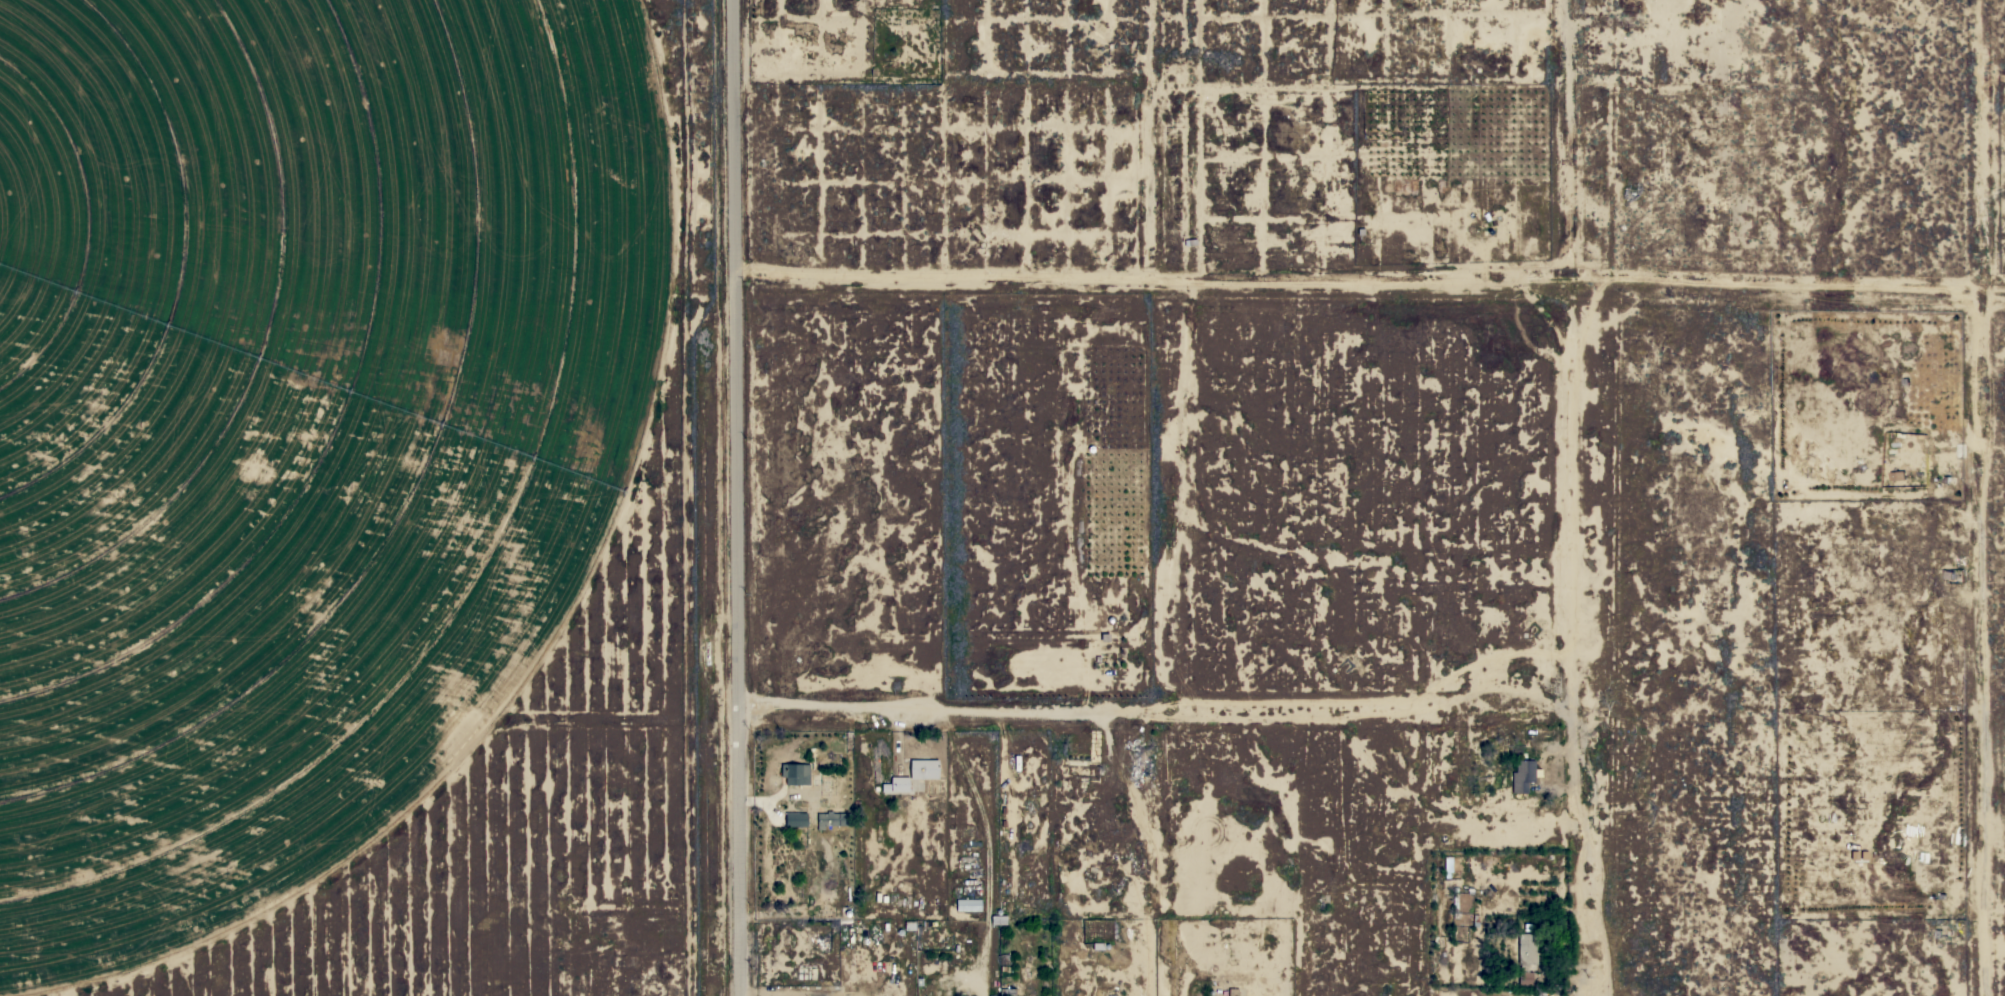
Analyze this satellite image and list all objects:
building: (926, 4)
building: (874, 35)
crop: (300, 427)
road: (716, 498)
road: (1289, 708)
building: (923, 769)
building: (795, 773)
building: (1522, 775)
building: (899, 784)
building: (796, 819)
building: (832, 819)
building: (1454, 903)
building: (968, 905)
building: (998, 919)
building: (1526, 949)
building: (1524, 978)
building: (1008, 990)
road: (1593, 992)

